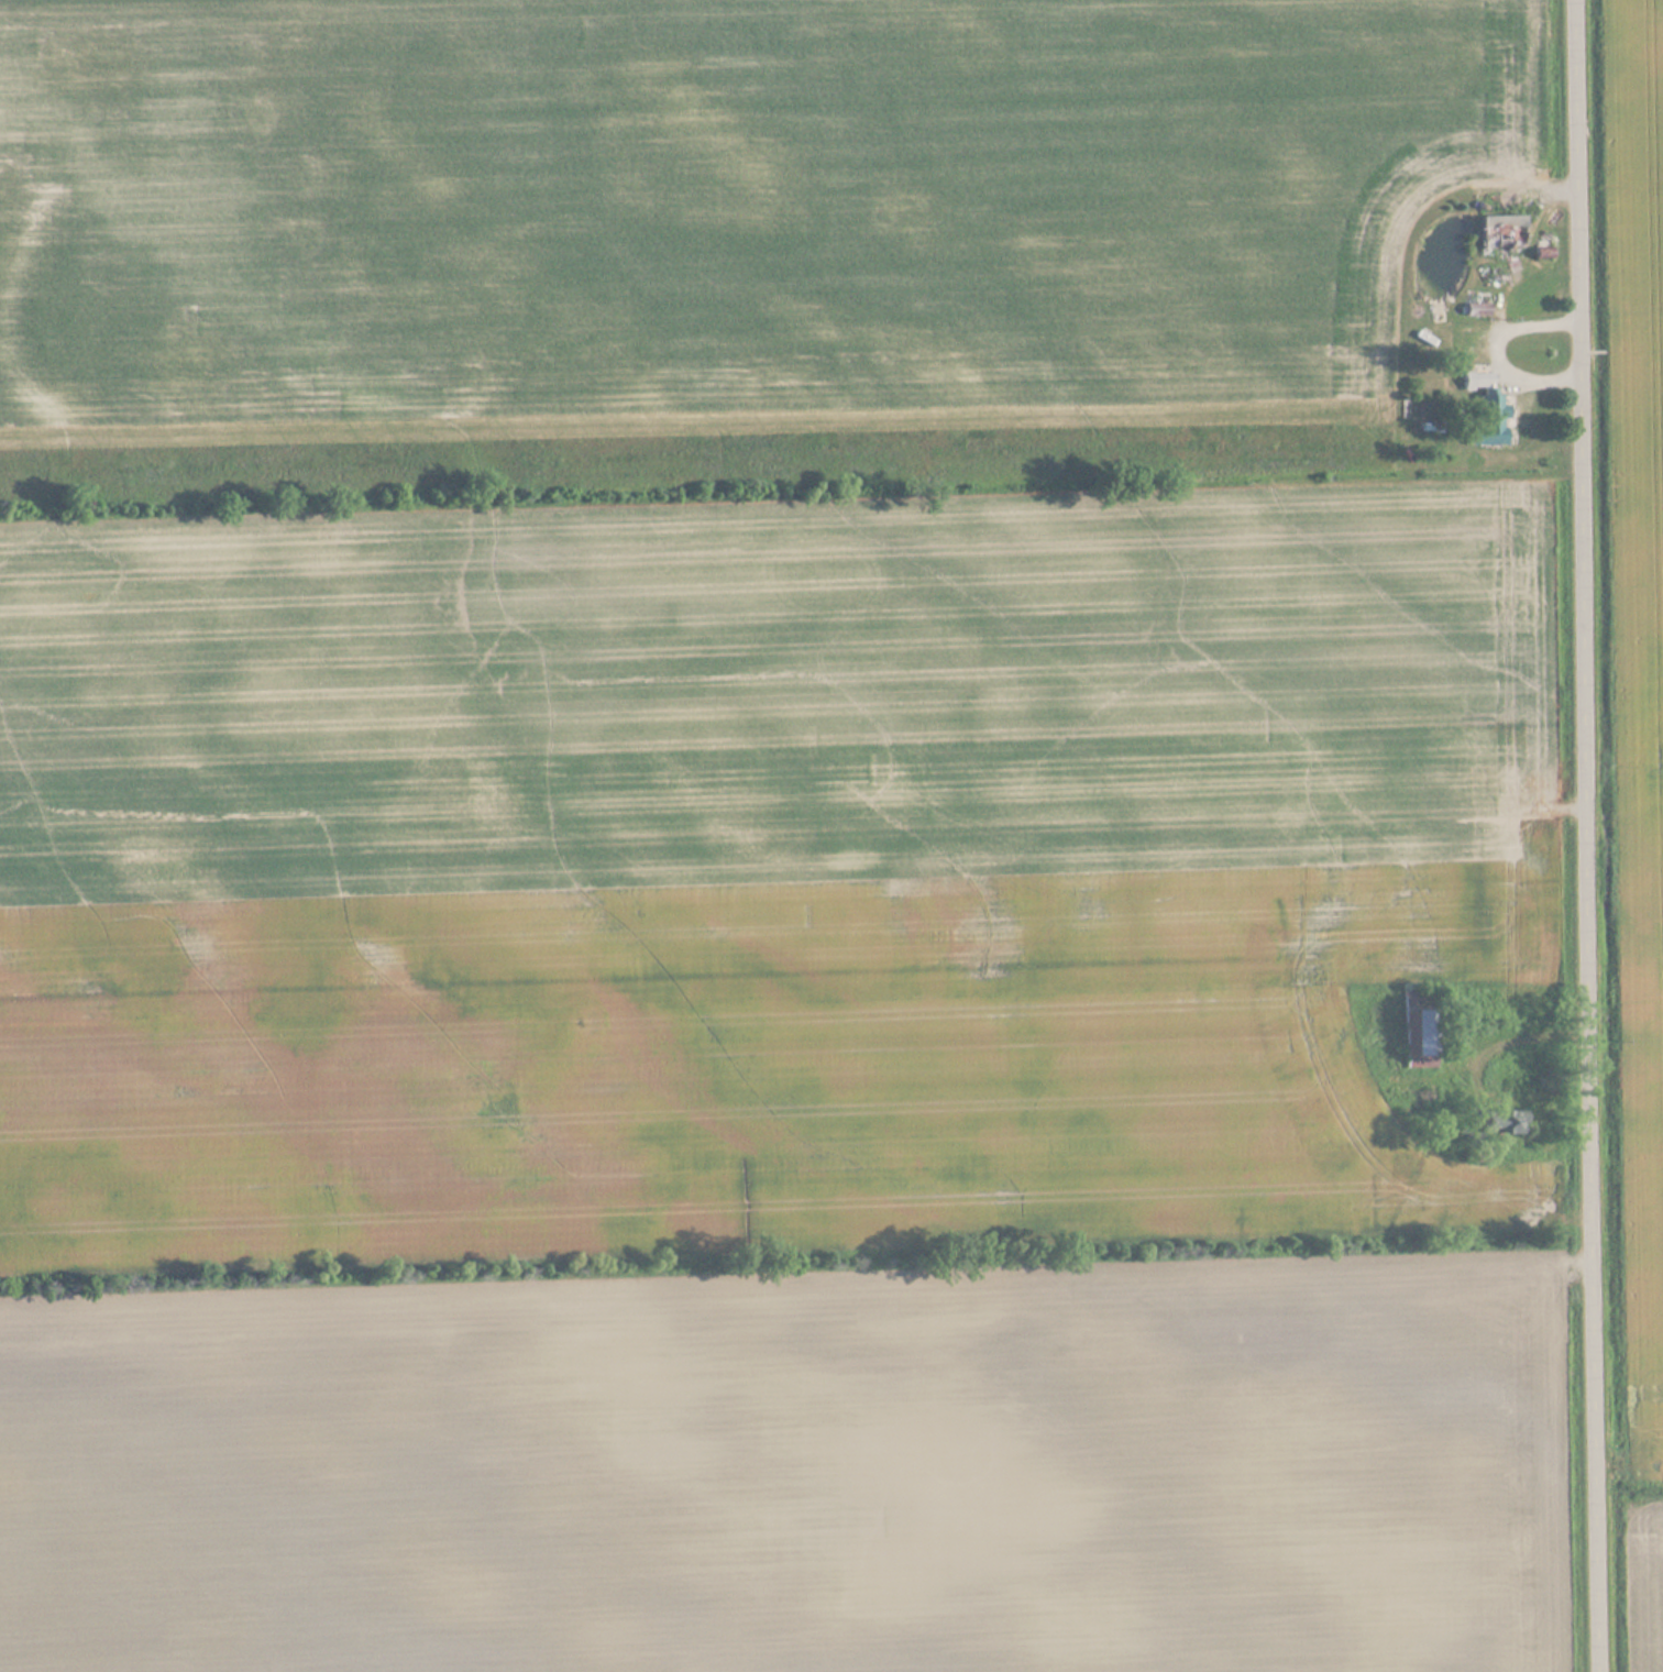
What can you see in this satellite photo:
building: (1502, 234)
building: (1486, 420)
road: (1590, 835)
building: (1417, 1036)
building: (1505, 1124)

